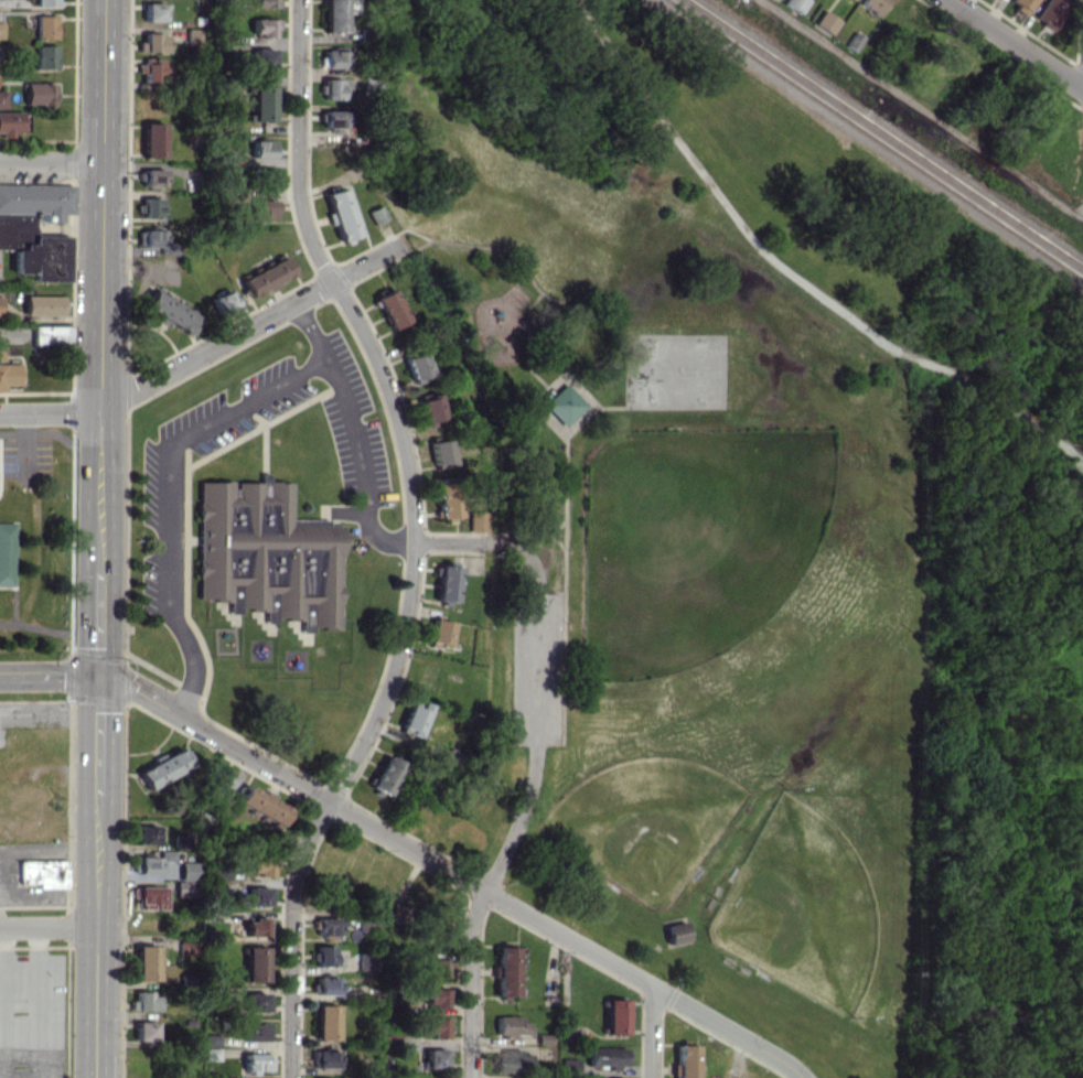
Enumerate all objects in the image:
building: (45, 2)
building: (265, 3)
building: (796, 4)
building: (875, 4)
building: (1022, 4)
building: (153, 11)
building: (1051, 12)
building: (339, 13)
building: (828, 22)
building: (44, 26)
building: (264, 26)
building: (1, 30)
building: (196, 36)
building: (152, 42)
road: (1018, 43)
building: (45, 56)
building: (262, 56)
building: (334, 58)
building: (152, 69)
building: (335, 88)
building: (39, 94)
building: (2, 98)
building: (261, 103)
road: (921, 108)
building: (334, 118)
building: (10, 122)
railway: (887, 132)
building: (153, 139)
railway: (877, 139)
road: (299, 143)
building: (262, 148)
road: (53, 164)
building: (153, 177)
building: (264, 177)
building: (151, 207)
building: (264, 209)
building: (341, 213)
building: (376, 214)
building: (35, 228)
building: (150, 238)
road: (787, 271)
building: (266, 277)
building: (223, 300)
building: (43, 304)
building: (0, 305)
building: (390, 308)
building: (172, 313)
building: (51, 333)
road: (103, 339)
road: (213, 346)
building: (0, 354)
building: (417, 366)
building: (9, 374)
building: (565, 403)
road: (394, 405)
building: (430, 408)
road: (355, 433)
building: (440, 451)
road: (47, 457)
road: (170, 495)
building: (447, 500)
building: (476, 520)
park: (687, 531)
road: (35, 536)
park: (35, 543)
building: (7, 551)
building: (266, 553)
building: (446, 582)
park: (684, 591)
road: (43, 628)
building: (439, 632)
parking lot: (536, 668)
road: (50, 676)
road: (393, 677)
traffic signals: (100, 681)
building: (414, 718)
road: (216, 737)
road: (150, 757)
road: (535, 763)
building: (163, 768)
building: (385, 774)
building: (222, 781)
building: (260, 806)
park: (646, 822)
building: (146, 834)
building: (181, 840)
building: (158, 863)
building: (259, 866)
building: (187, 871)
building: (43, 873)
road: (98, 878)
building: (183, 888)
building: (257, 895)
building: (151, 896)
park: (803, 906)
building: (400, 912)
road: (49, 926)
building: (255, 926)
building: (326, 926)
building: (677, 933)
road: (289, 935)
road: (567, 937)
building: (186, 947)
building: (326, 956)
building: (366, 961)
building: (146, 962)
building: (255, 963)
building: (438, 967)
building: (505, 971)
building: (325, 984)
building: (435, 996)
building: (143, 1001)
building: (255, 1001)
building: (614, 1016)
building: (325, 1022)
building: (511, 1024)
building: (436, 1027)
building: (144, 1030)
building: (254, 1031)
road: (652, 1032)
building: (211, 1039)
building: (211, 1054)
building: (607, 1056)
building: (435, 1057)
building: (323, 1058)
building: (512, 1060)
building: (257, 1061)
building: (685, 1061)
building: (326, 1077)

